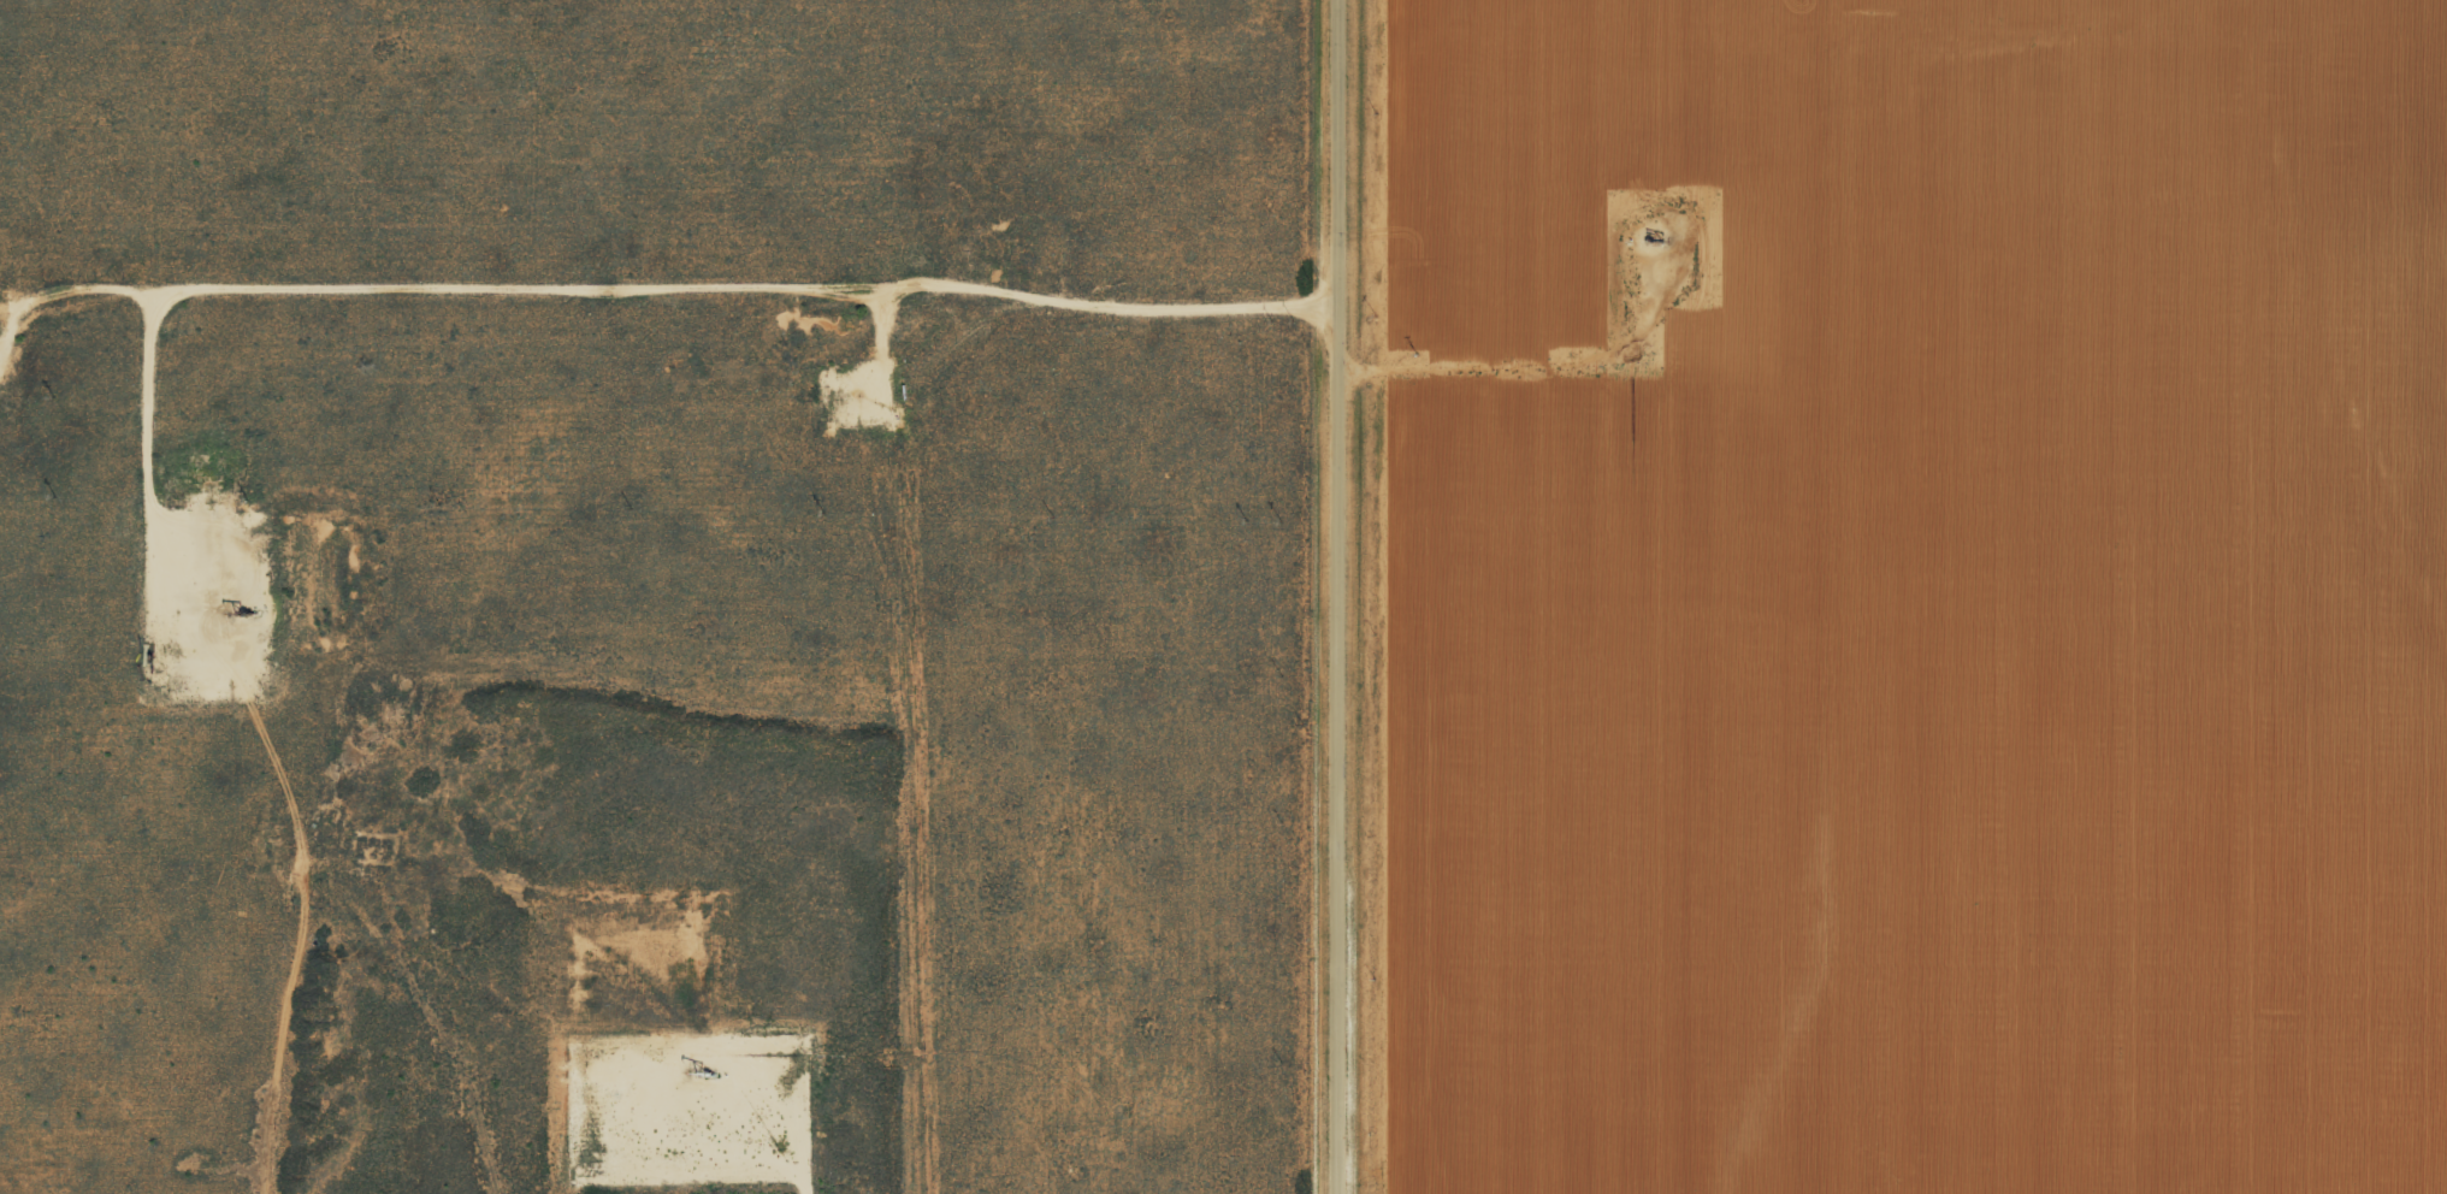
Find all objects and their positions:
petroleum well: (1655, 236)
road: (1343, 597)
petroleum well: (234, 608)
petroleum well: (684, 1070)

